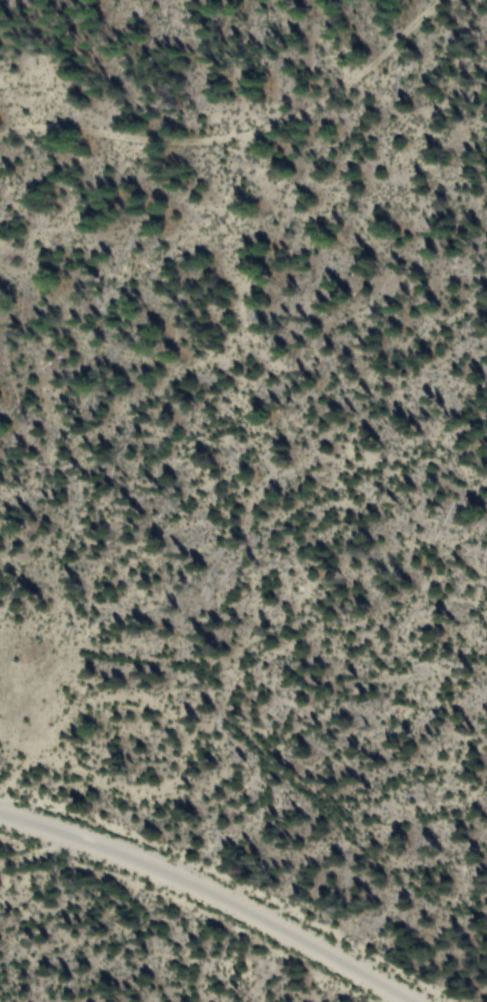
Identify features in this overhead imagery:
road: (218, 892)

